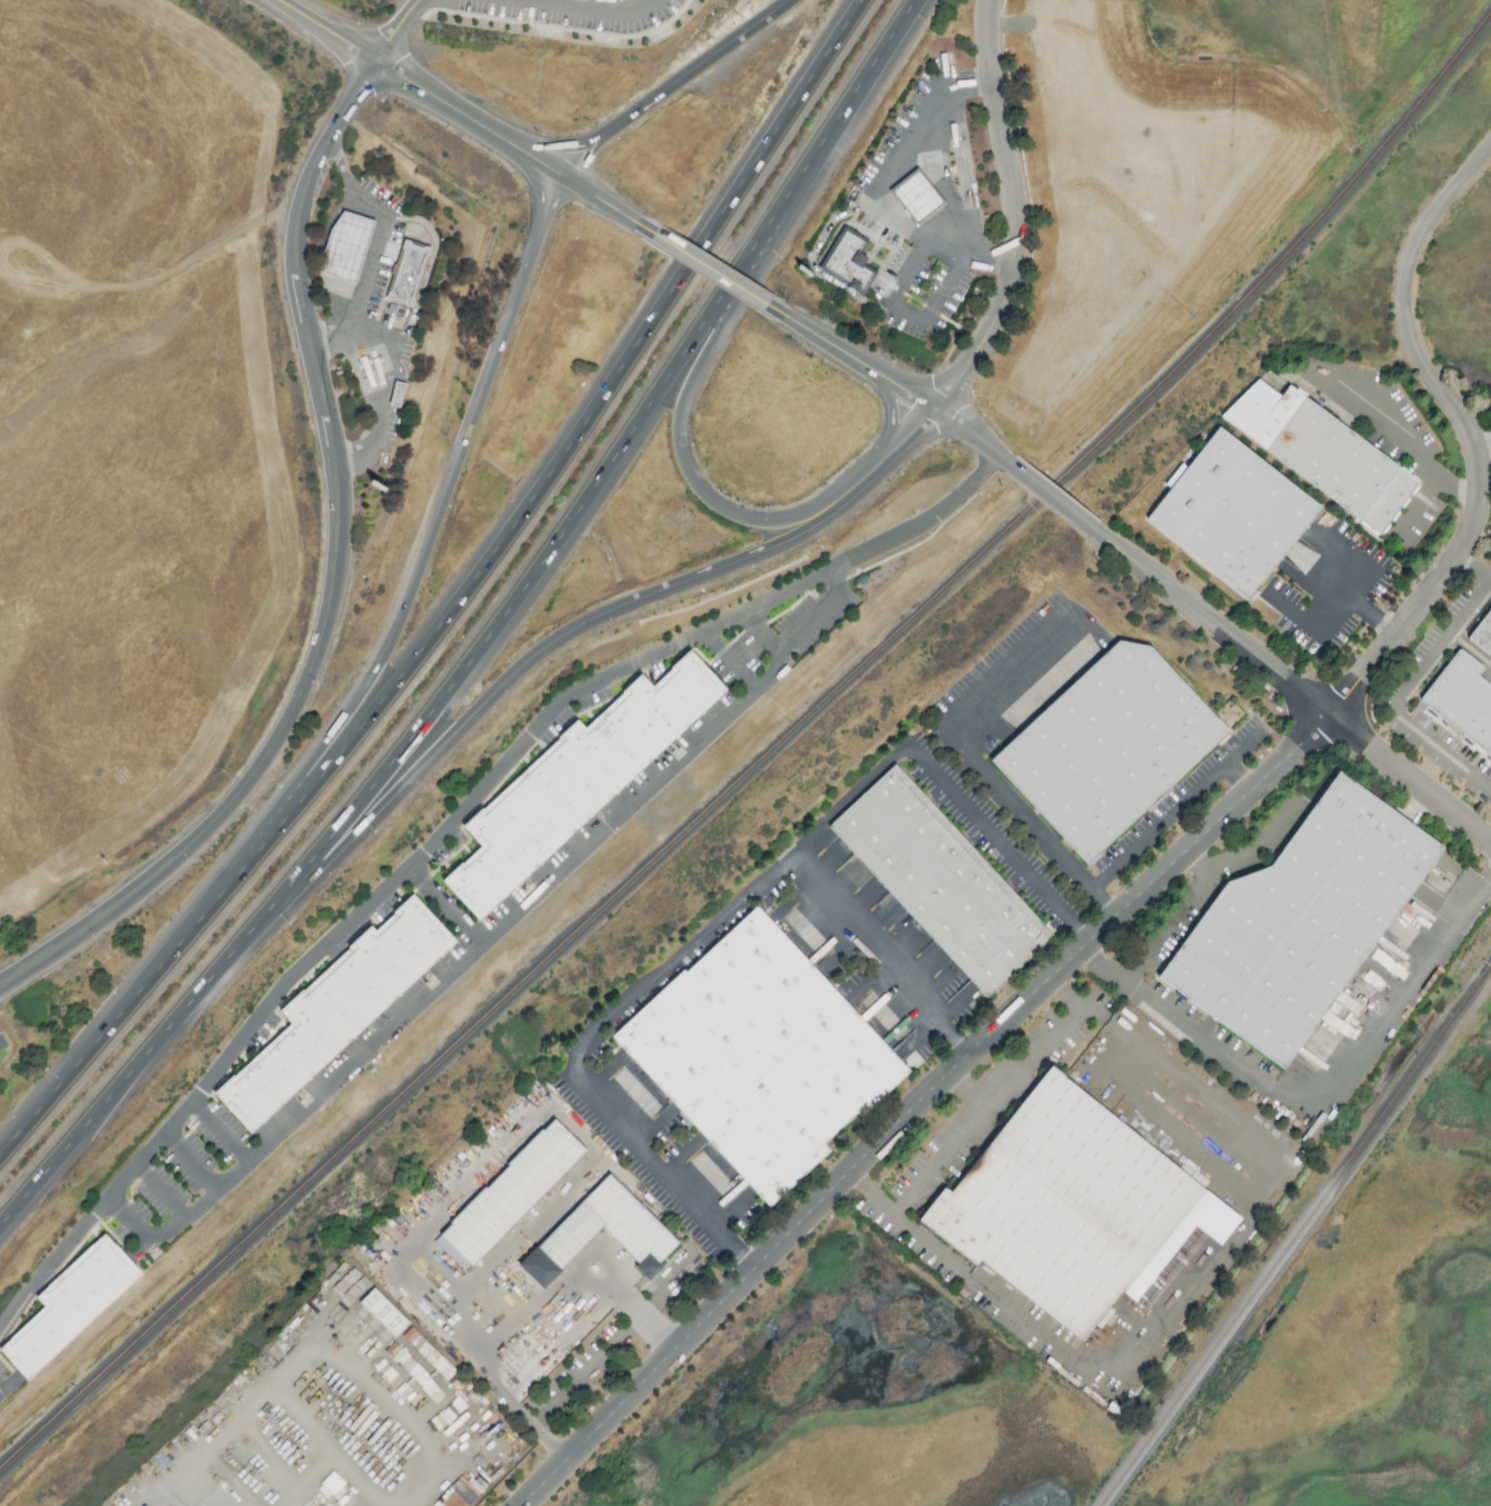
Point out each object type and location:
parking lot: (562, 3)
road: (585, 8)
road: (398, 31)
road: (734, 43)
road: (863, 81)
road: (636, 115)
road: (465, 119)
road: (325, 148)
road: (558, 150)
road: (582, 160)
road: (338, 163)
road: (876, 193)
building: (918, 199)
gas station: (923, 212)
road: (1014, 214)
building: (349, 250)
road: (374, 253)
road: (295, 257)
building: (851, 263)
road: (427, 265)
road: (816, 269)
building: (408, 274)
road: (717, 275)
building: (329, 284)
road: (300, 298)
road: (910, 316)
road: (331, 338)
road: (830, 345)
road: (316, 369)
road: (397, 389)
road: (380, 391)
road: (908, 392)
building: (396, 395)
road: (679, 403)
road: (894, 417)
road: (1471, 433)
road: (912, 436)
road: (973, 437)
road: (1400, 438)
road: (332, 439)
parking lot: (1390, 441)
road: (1483, 442)
building: (1328, 459)
road: (336, 470)
road: (872, 472)
road: (549, 473)
building: (1175, 476)
road: (1050, 498)
road: (1417, 510)
building: (1241, 515)
road: (780, 539)
road: (1362, 557)
road: (1474, 564)
road: (420, 568)
road: (536, 571)
road: (819, 614)
road: (1333, 618)
road: (1211, 624)
building: (1483, 637)
road: (1470, 649)
road: (732, 661)
road: (310, 676)
road: (1401, 693)
building: (1464, 701)
road: (441, 739)
road: (957, 747)
building: (1112, 750)
railway: (762, 761)
road: (1239, 779)
road: (1411, 779)
building: (579, 784)
road: (848, 797)
road: (1177, 810)
road: (449, 830)
road: (991, 831)
road: (1255, 844)
building: (943, 884)
road: (1105, 902)
road: (448, 908)
road: (1173, 913)
road: (100, 917)
building: (1303, 925)
road: (1083, 927)
road: (475, 955)
road: (678, 962)
building: (1349, 1004)
building: (339, 1013)
road: (99, 1036)
road: (1, 1046)
parking lot: (3, 1046)
building: (763, 1059)
road: (1032, 1059)
road: (114, 1089)
road: (1312, 1099)
road: (918, 1106)
road: (223, 1133)
road: (583, 1139)
road: (194, 1163)
road: (933, 1166)
road: (164, 1192)
building: (511, 1200)
building: (743, 1206)
building: (1066, 1209)
railway: (1296, 1238)
building: (646, 1242)
road: (541, 1303)
road: (1167, 1304)
building: (73, 1308)
building: (383, 1313)
road: (558, 1343)
road: (289, 1364)
road: (158, 1486)

